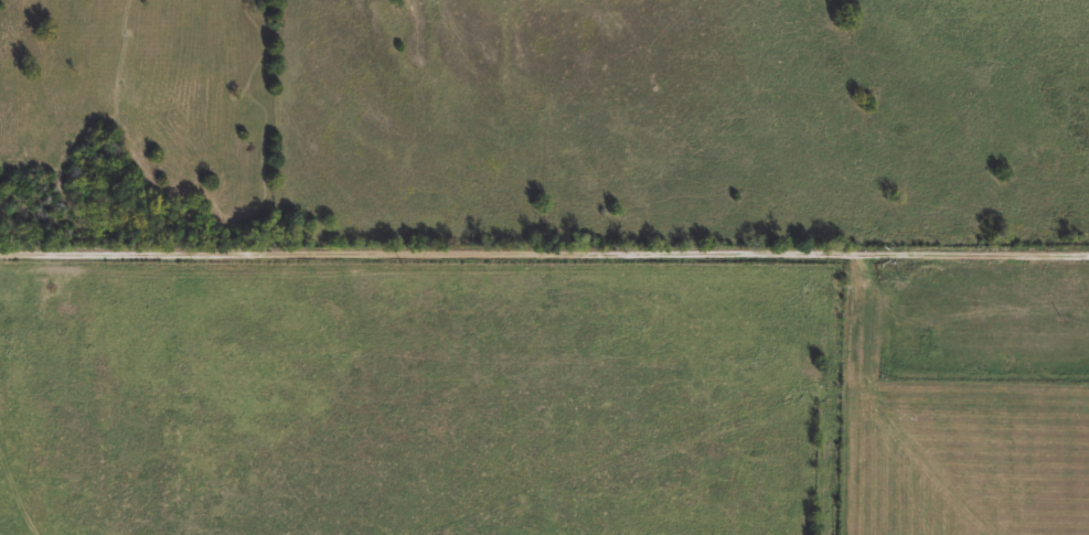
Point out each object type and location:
road: (544, 247)
road: (22, 472)

